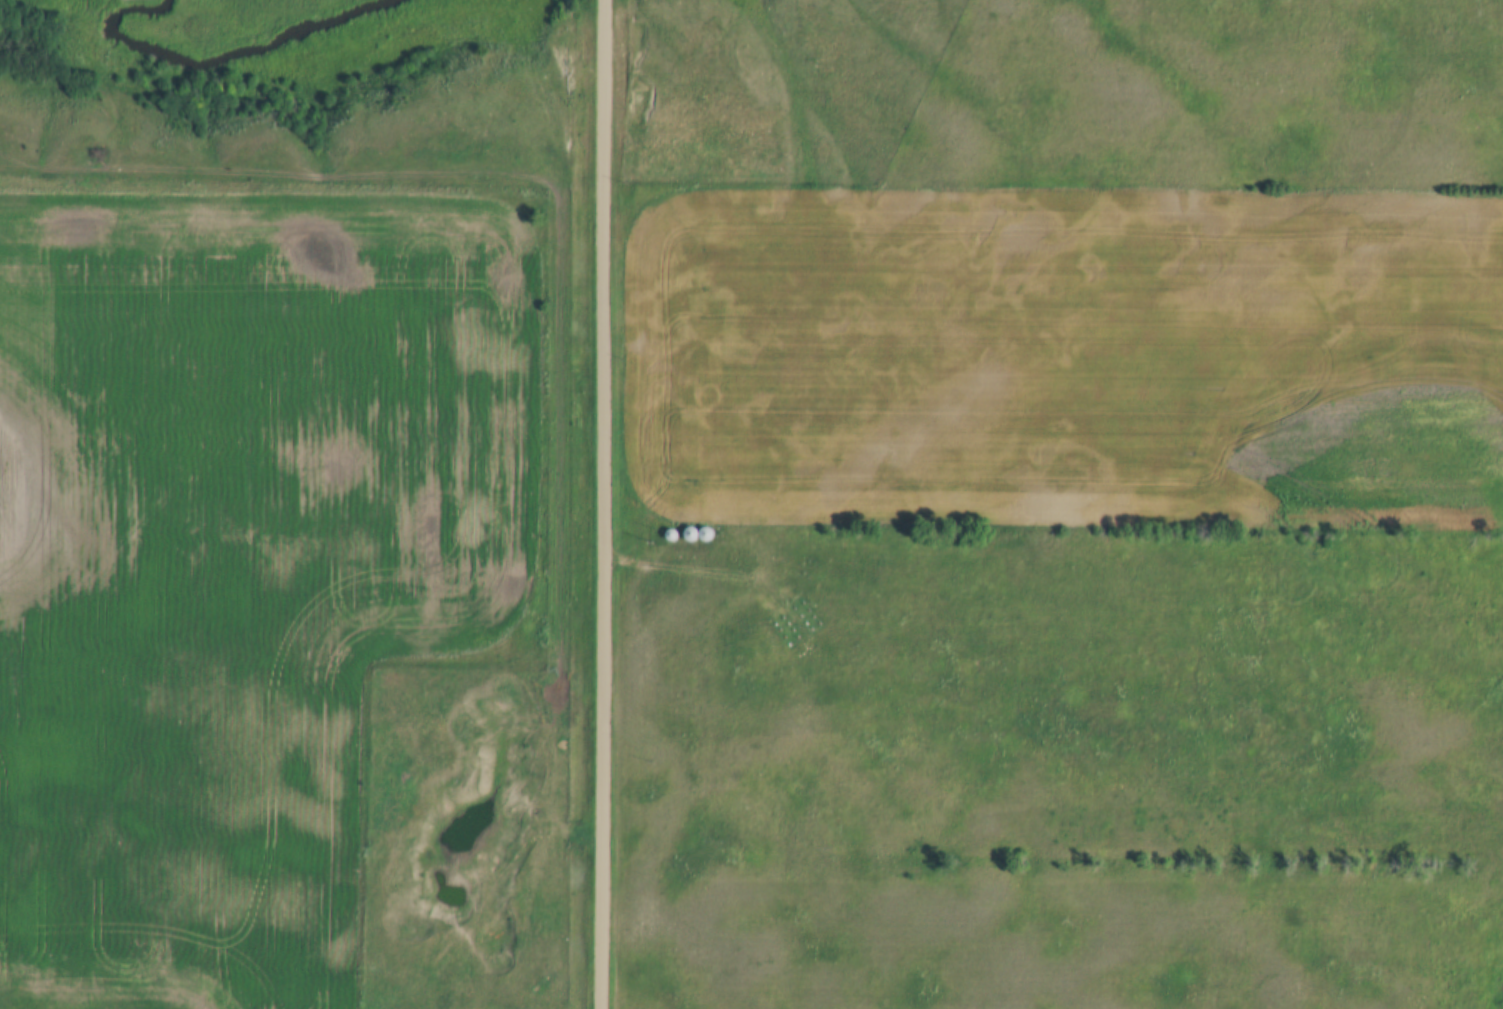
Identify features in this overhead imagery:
road: (608, 504)

